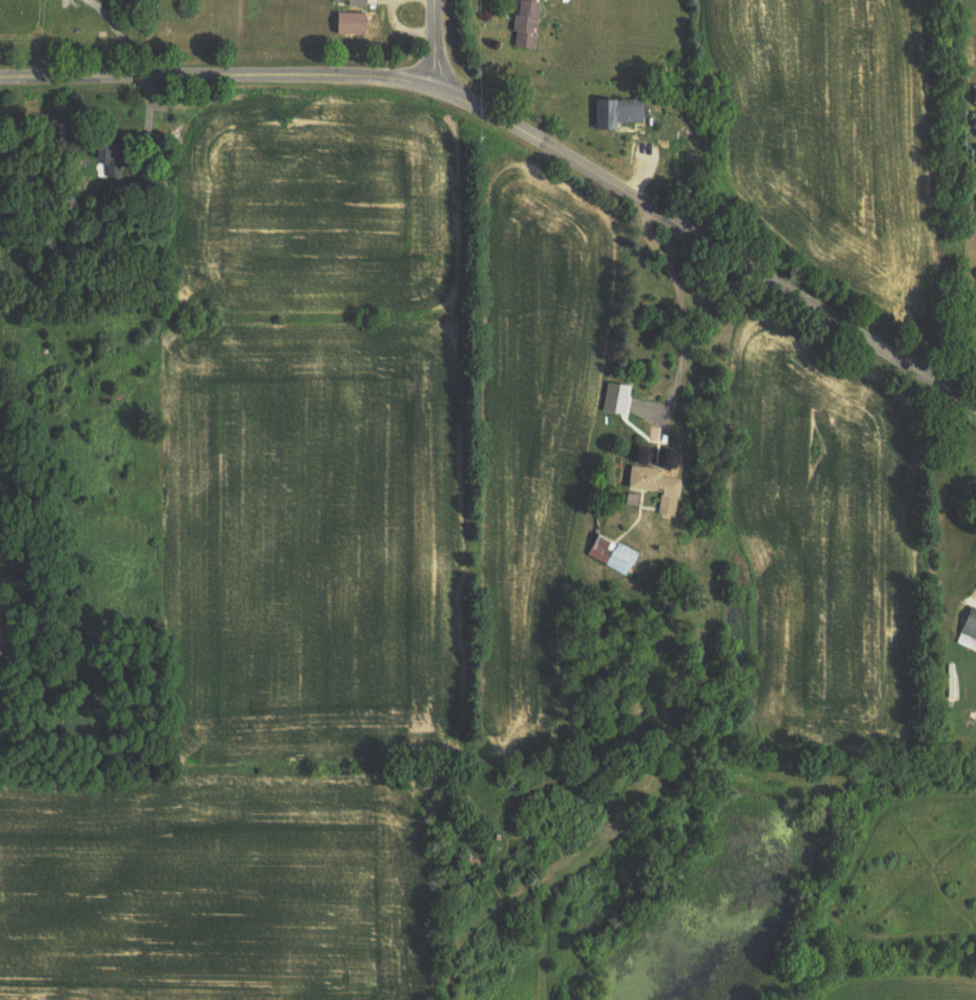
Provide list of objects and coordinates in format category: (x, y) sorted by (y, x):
building: (551, 0)
road: (426, 1)
building: (357, 3)
building: (353, 24)
building: (529, 24)
road: (401, 28)
road: (433, 43)
building: (621, 113)
road: (146, 131)
road: (521, 133)
building: (112, 161)
road: (679, 307)
building: (658, 489)
building: (613, 556)
building: (971, 622)

